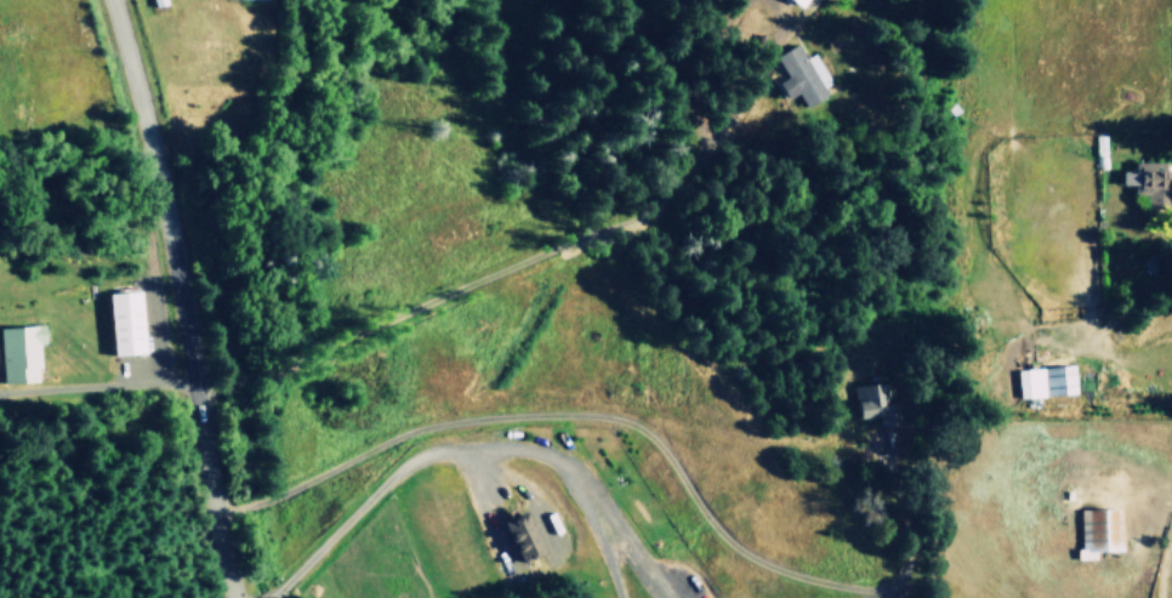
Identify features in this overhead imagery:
building: (800, 1)
building: (802, 75)
building: (1148, 183)
road: (1143, 289)
road: (180, 297)
building: (126, 321)
building: (19, 353)
building: (1045, 381)
building: (877, 403)
building: (1098, 531)
building: (524, 536)

